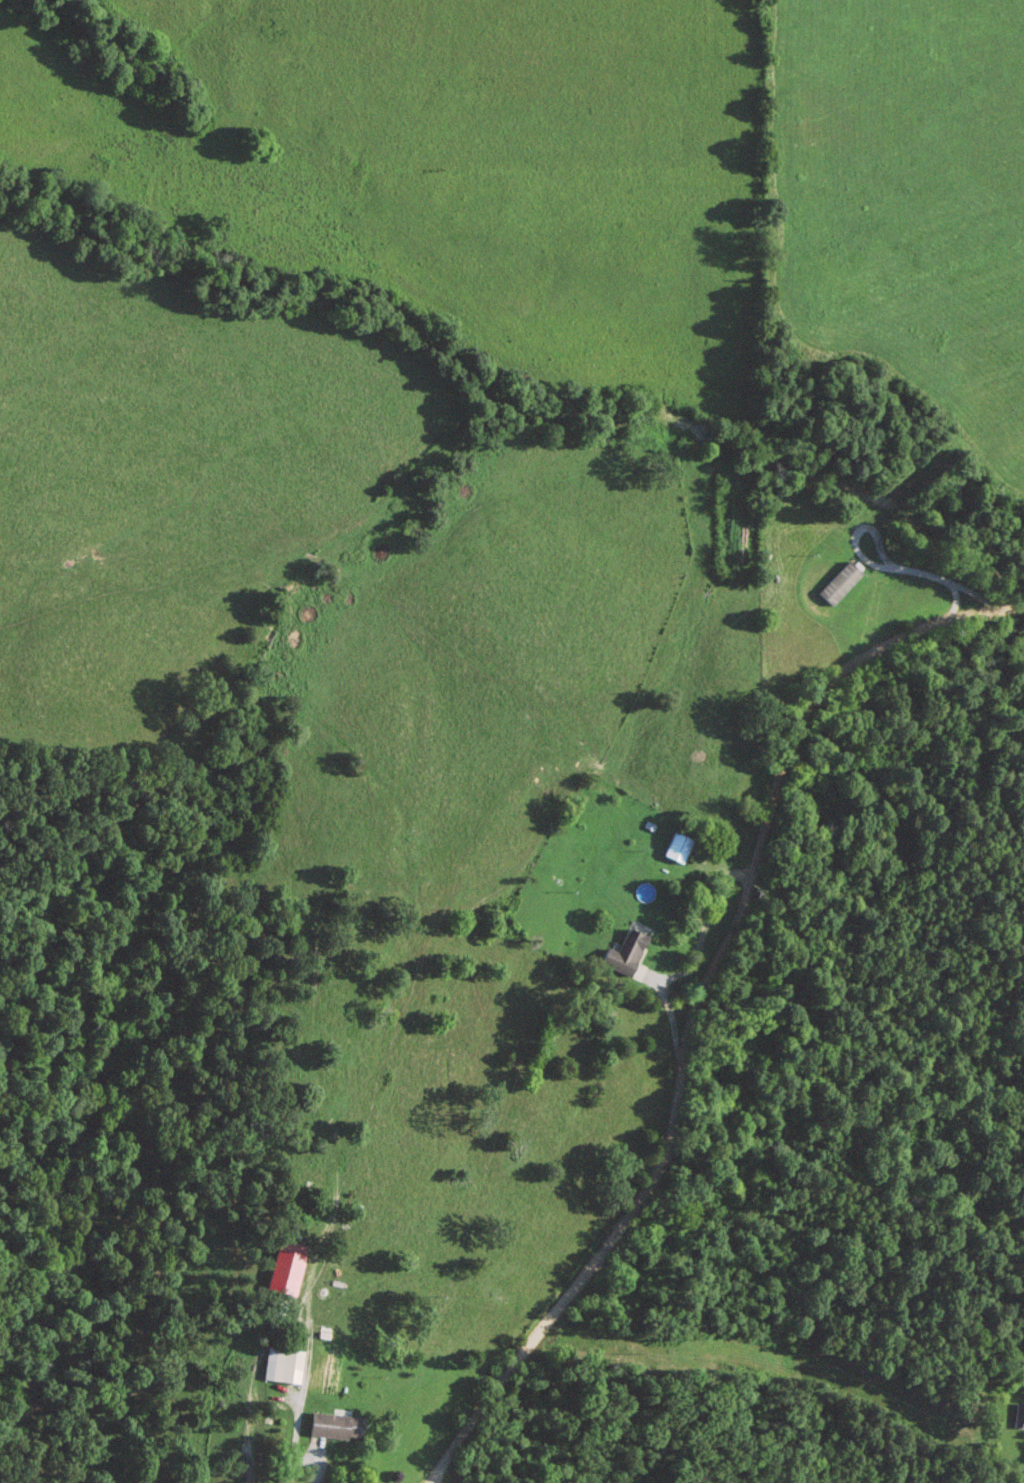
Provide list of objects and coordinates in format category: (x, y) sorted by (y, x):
building: (675, 850)
building: (620, 955)
road: (694, 1000)
building: (287, 1269)
building: (285, 1366)
building: (330, 1427)

